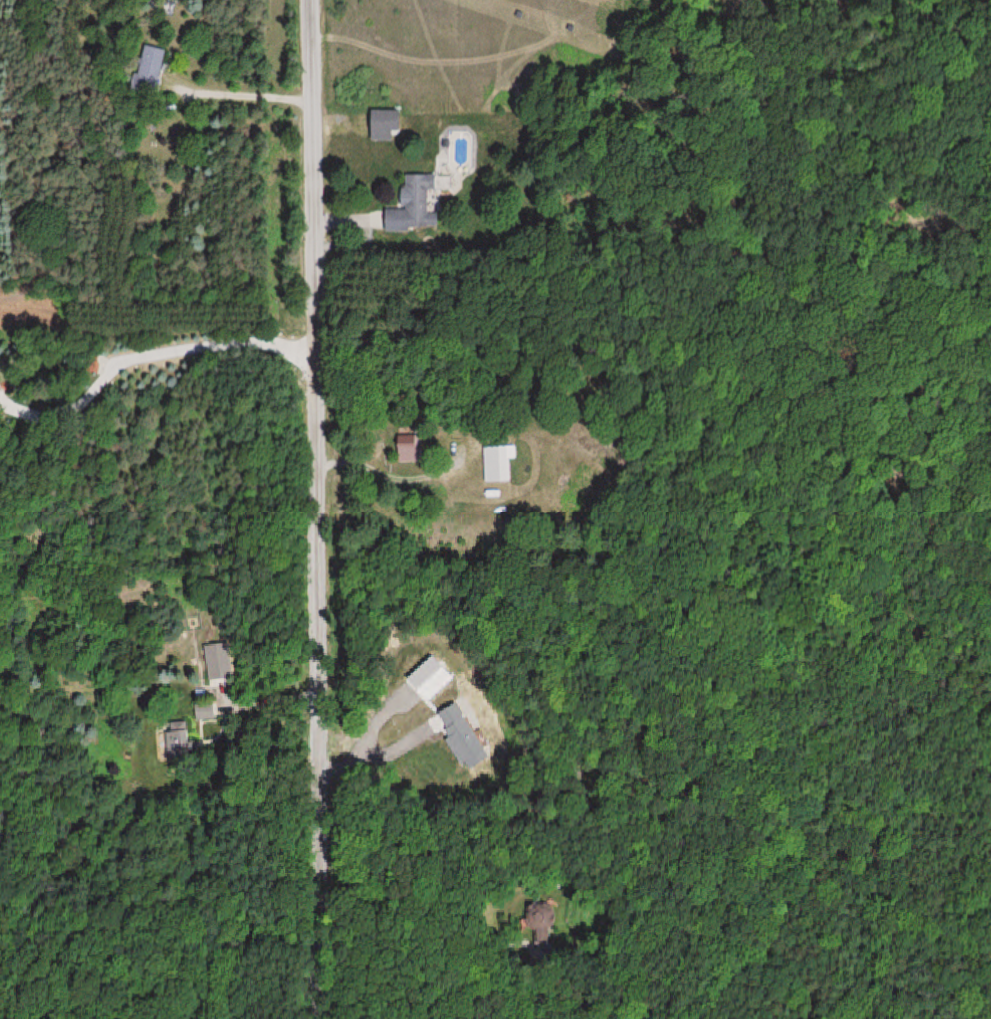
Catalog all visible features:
building: (148, 69)
building: (381, 124)
building: (417, 198)
building: (412, 448)
building: (496, 462)
road: (315, 509)
building: (218, 663)
building: (206, 713)
building: (182, 744)

